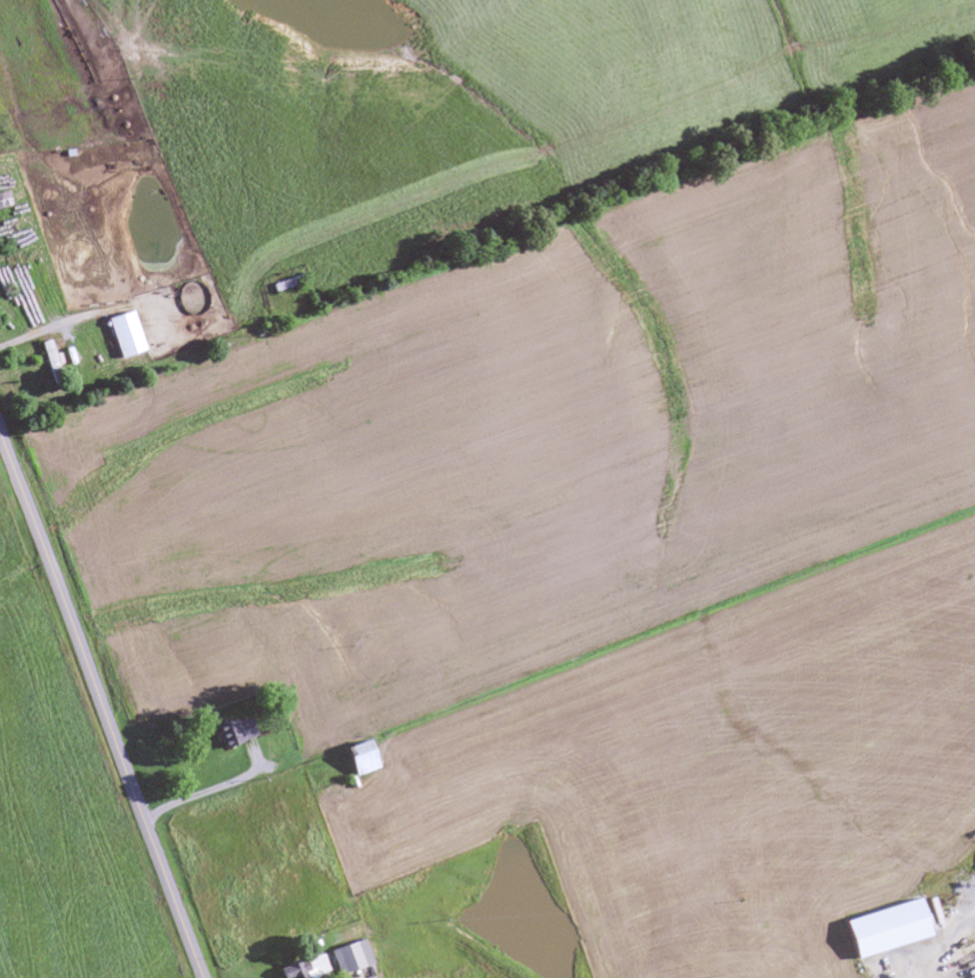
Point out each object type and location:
building: (3, 201)
building: (1, 227)
road: (487, 247)
building: (286, 287)
building: (121, 336)
building: (46, 358)
road: (101, 706)
building: (232, 732)
building: (355, 759)
building: (889, 924)
building: (347, 956)
building: (306, 968)

